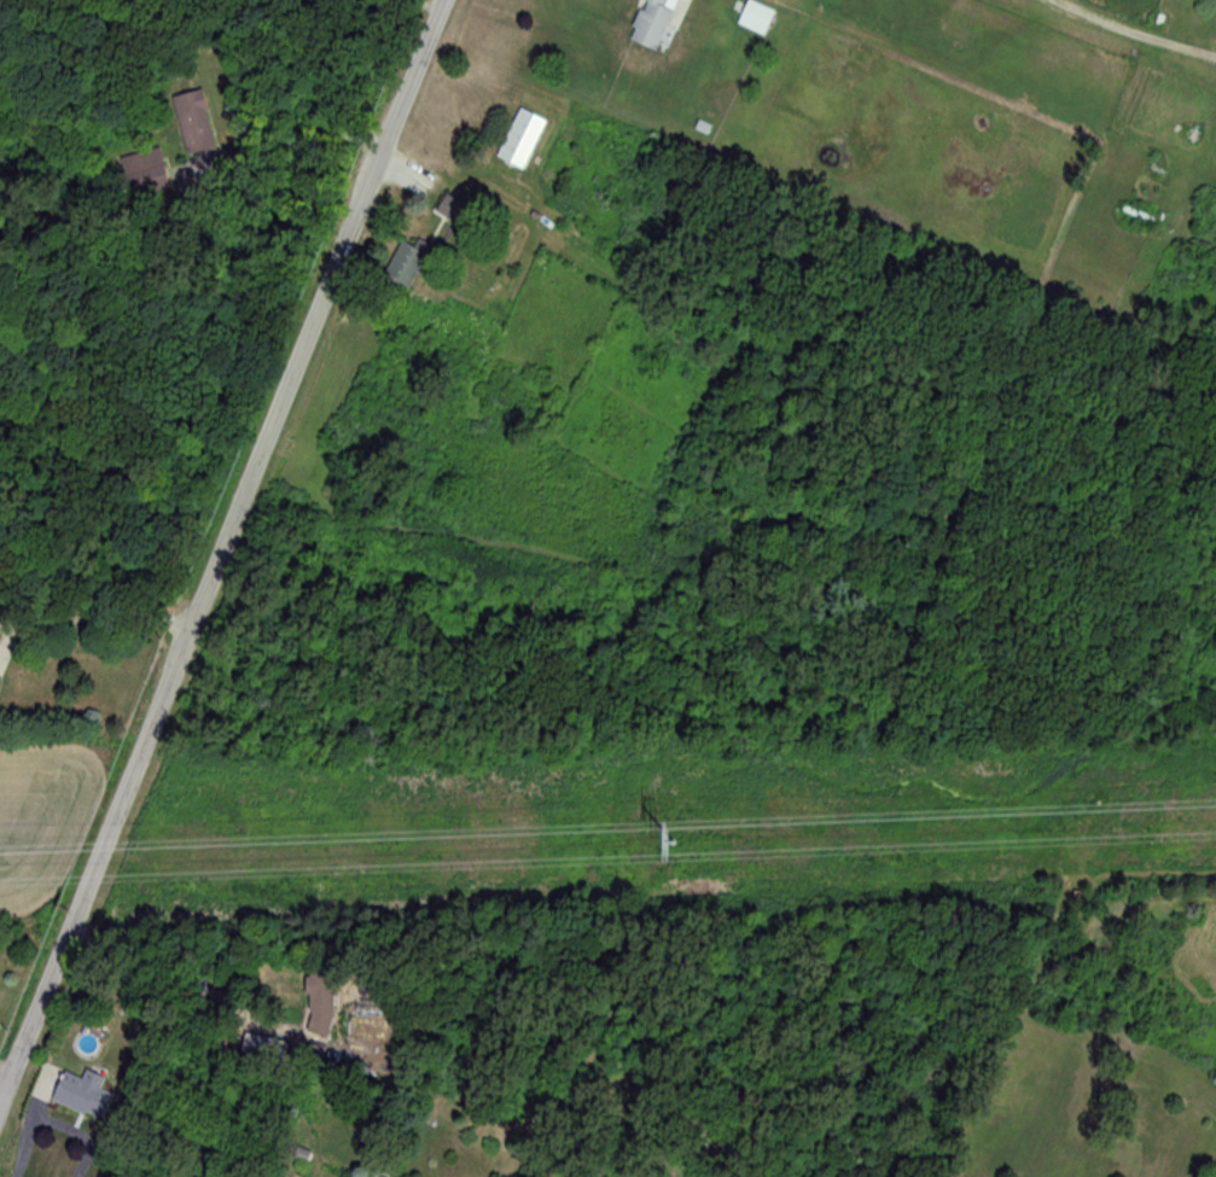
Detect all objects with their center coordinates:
building: (754, 17)
building: (650, 22)
road: (1127, 35)
building: (191, 122)
building: (518, 139)
road: (292, 142)
building: (450, 210)
building: (402, 264)
road: (219, 550)
road: (99, 620)
power tower: (648, 845)
road: (175, 991)
building: (80, 1094)

